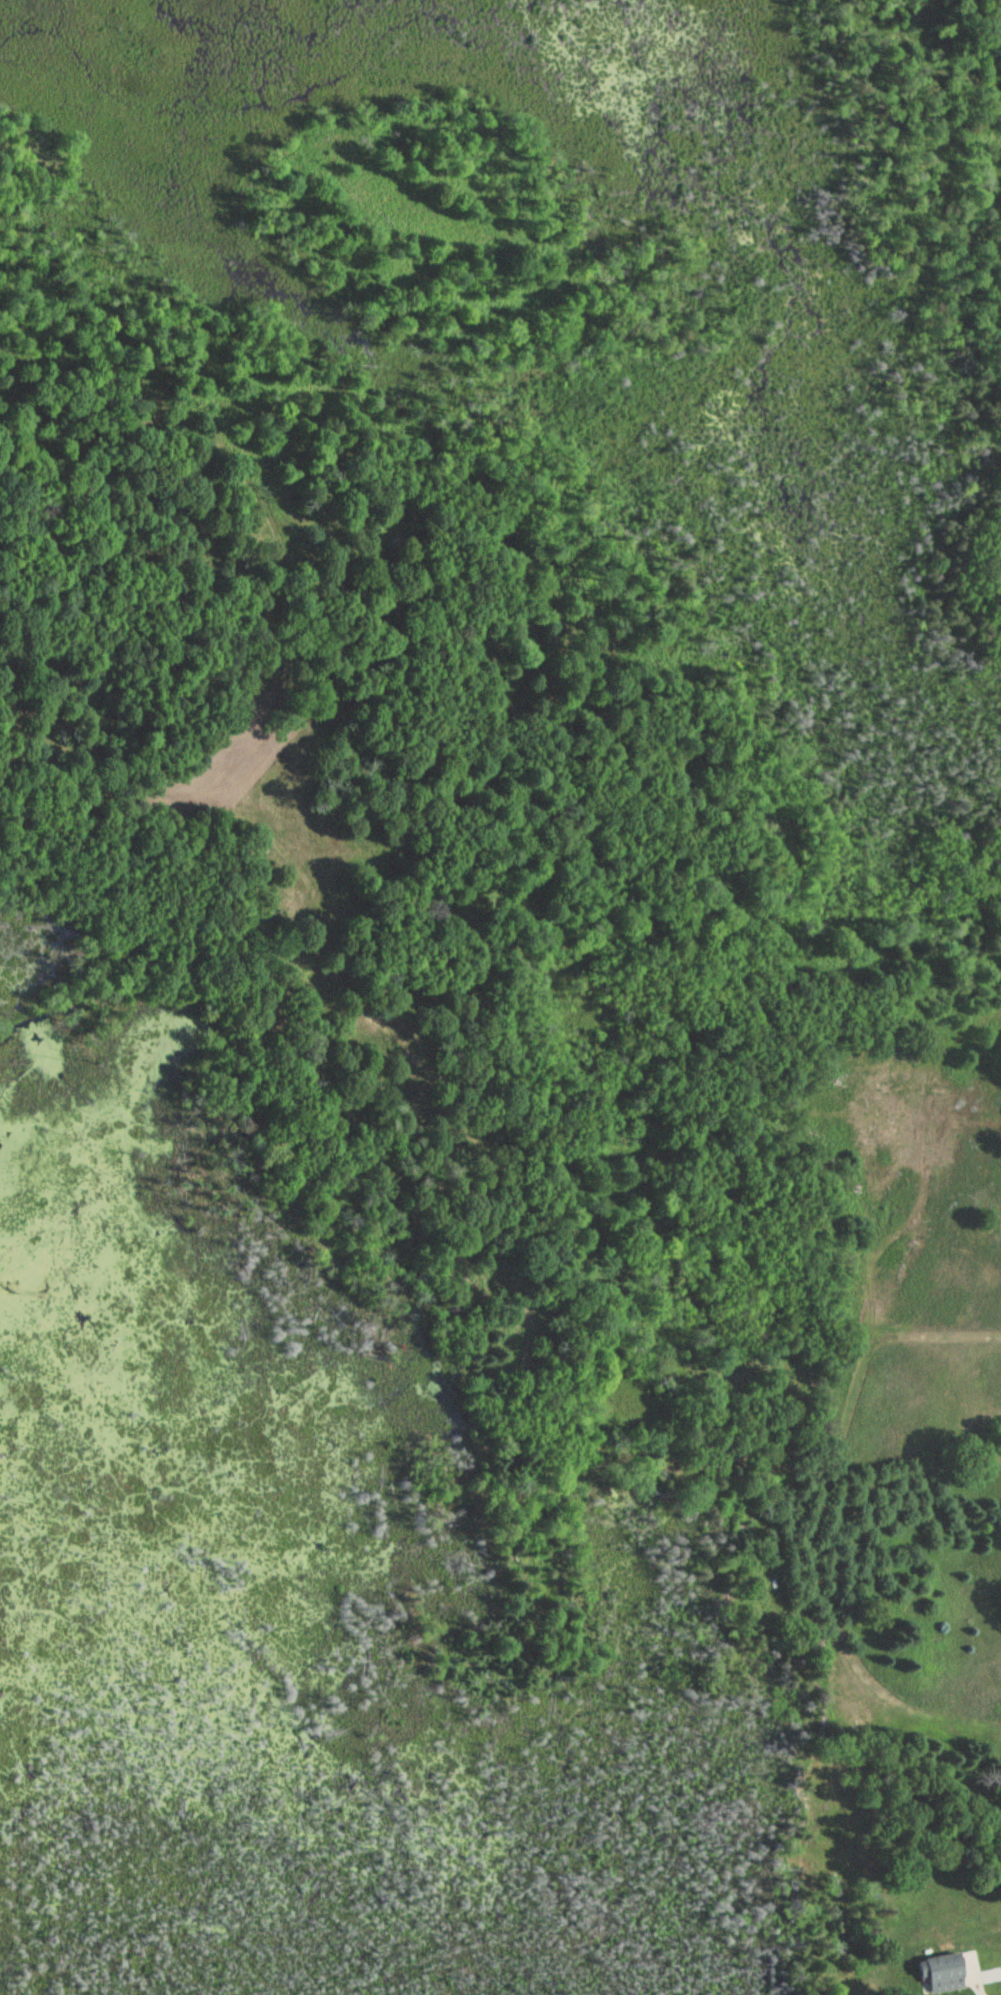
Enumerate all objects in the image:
building: (944, 1973)

